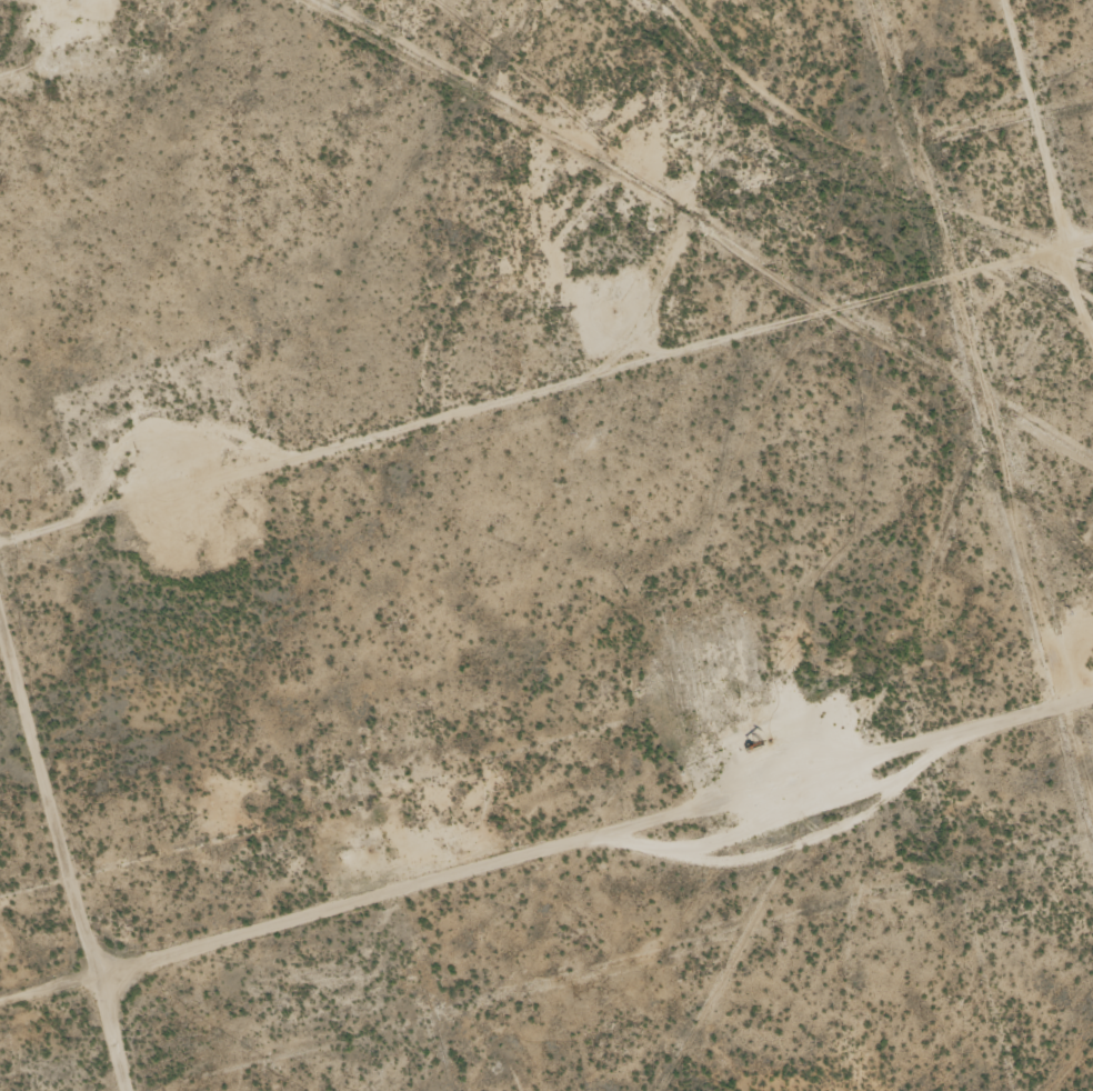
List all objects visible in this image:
road: (71, 828)
road: (545, 829)

